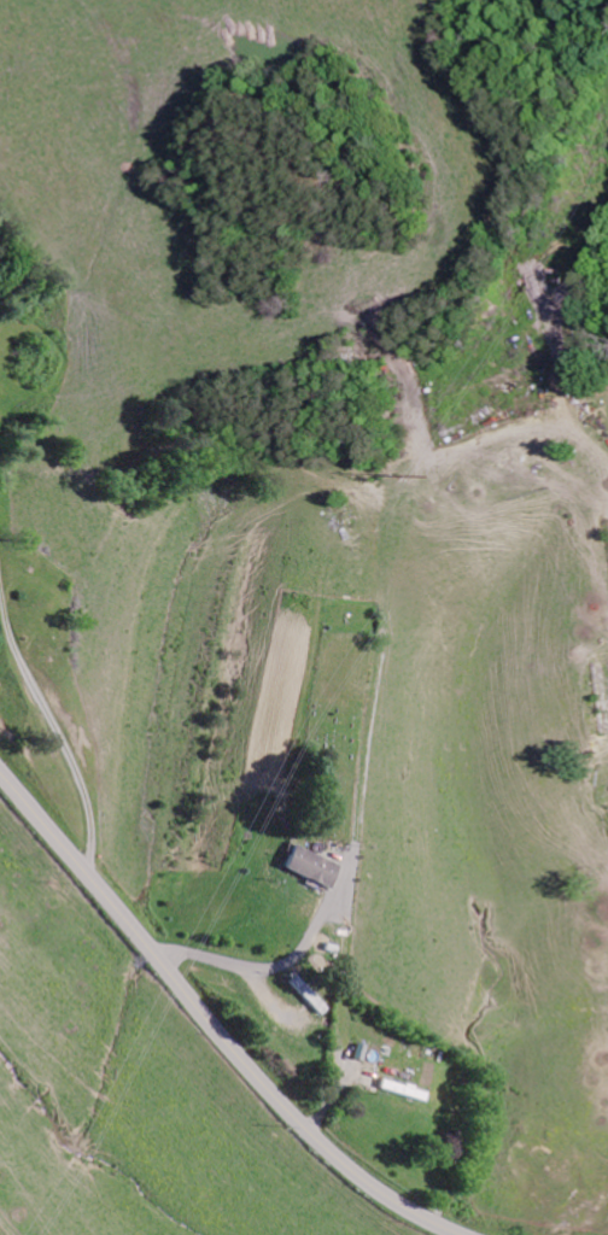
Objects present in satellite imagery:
building: (303, 865)
road: (222, 1018)

